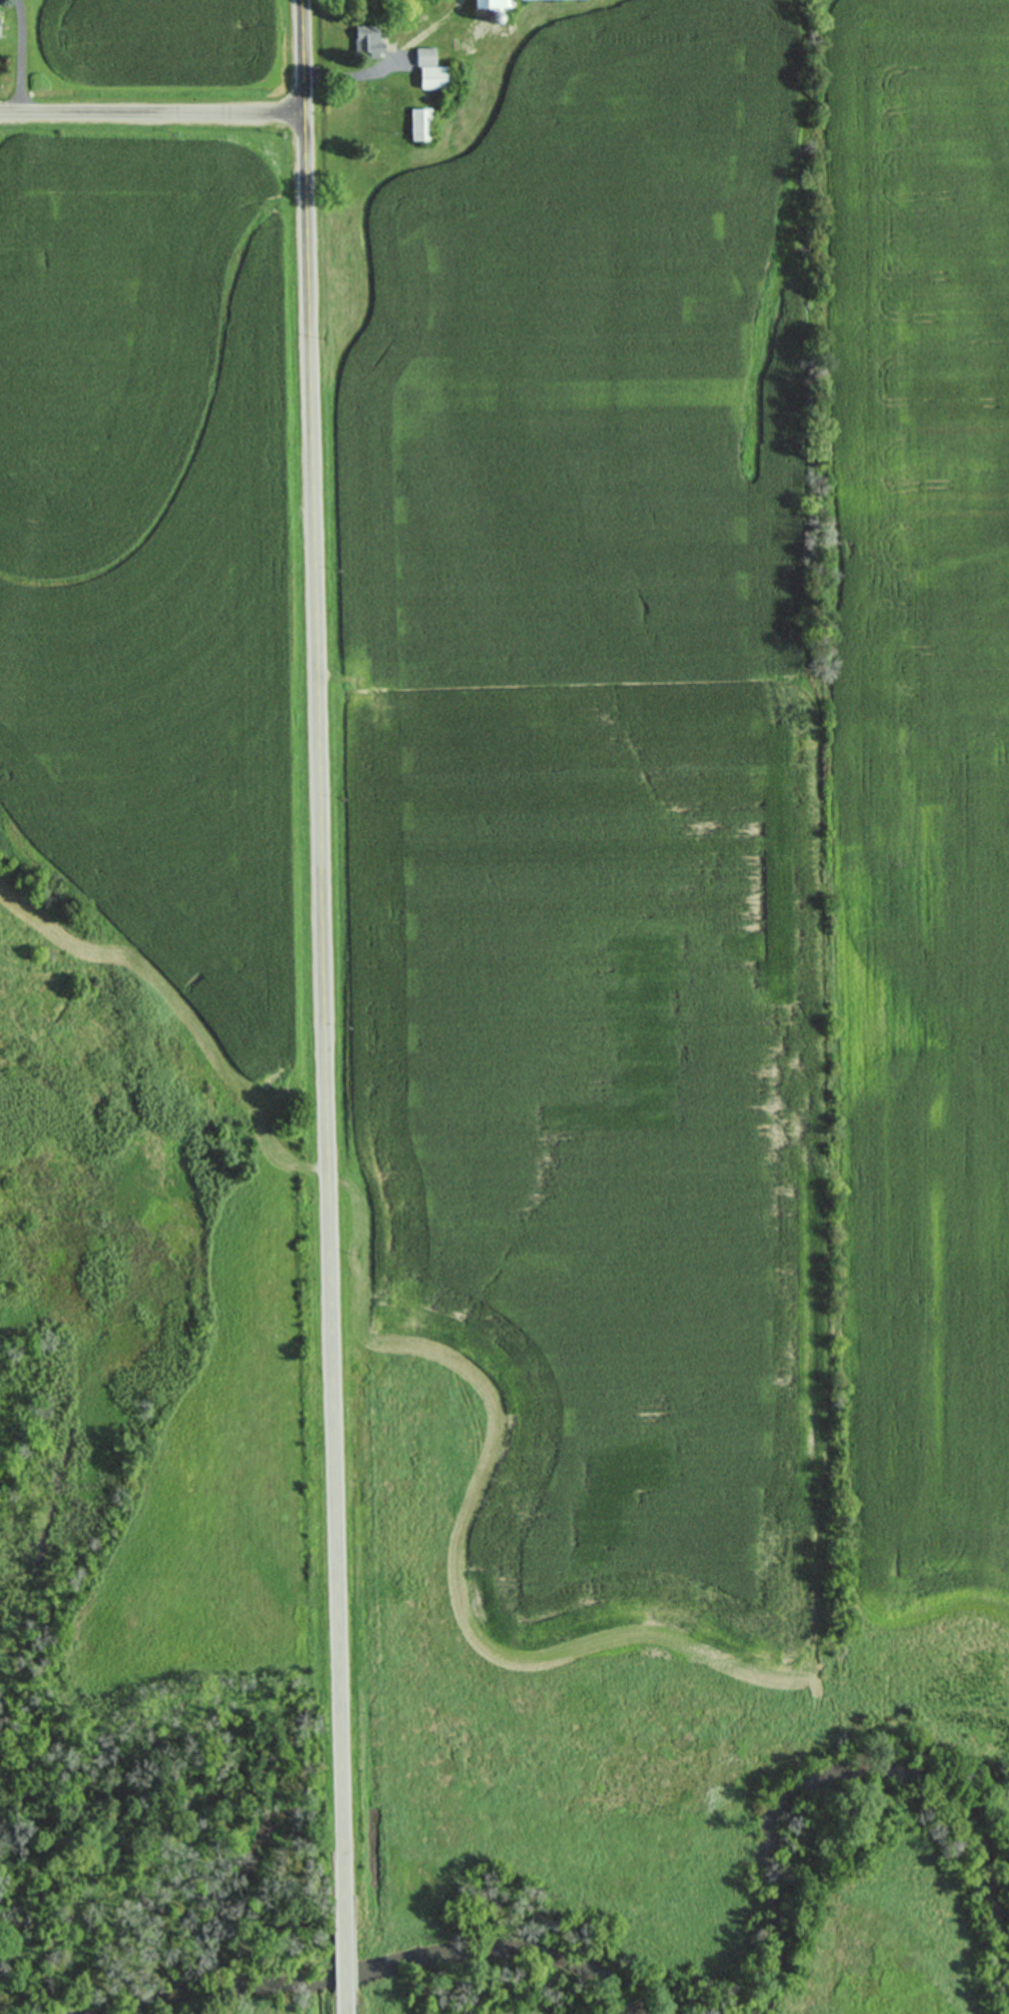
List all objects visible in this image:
building: (496, 3)
building: (0, 22)
building: (370, 39)
road: (20, 55)
building: (433, 68)
road: (150, 112)
building: (423, 123)
road: (321, 968)
river: (837, 1766)
road: (345, 1964)
river: (383, 1965)
road: (346, 2003)

